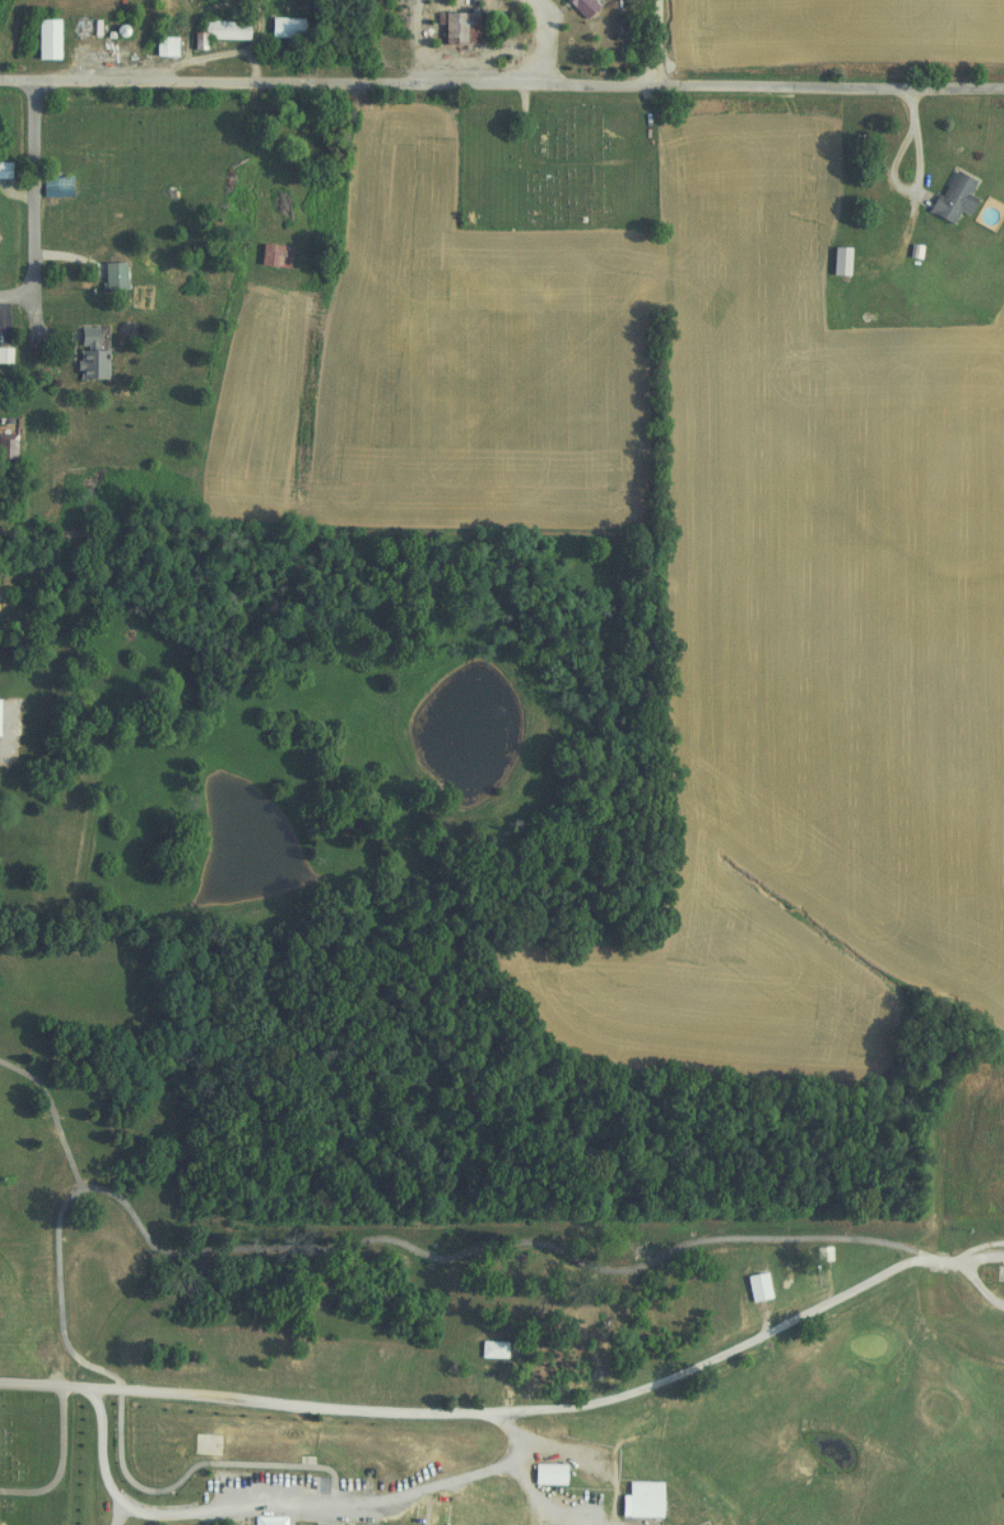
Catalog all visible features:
building: (578, 7)
building: (282, 28)
building: (454, 29)
building: (221, 30)
building: (42, 39)
road: (428, 42)
road: (541, 43)
road: (659, 44)
building: (161, 47)
road: (77, 79)
road: (578, 89)
road: (917, 109)
building: (2, 171)
road: (921, 173)
road: (36, 181)
building: (51, 187)
building: (949, 199)
building: (270, 256)
building: (835, 261)
building: (108, 276)
road: (19, 297)
building: (2, 355)
building: (85, 355)
building: (4, 446)
road: (54, 1114)
road: (378, 1241)
road: (982, 1253)
building: (818, 1254)
building: (997, 1274)
road: (976, 1284)
building: (753, 1287)
building: (489, 1349)
road: (711, 1368)
road: (221, 1403)
building: (204, 1444)
road: (62, 1463)
building: (639, 1500)
building: (265, 1520)
road: (288, 1521)

